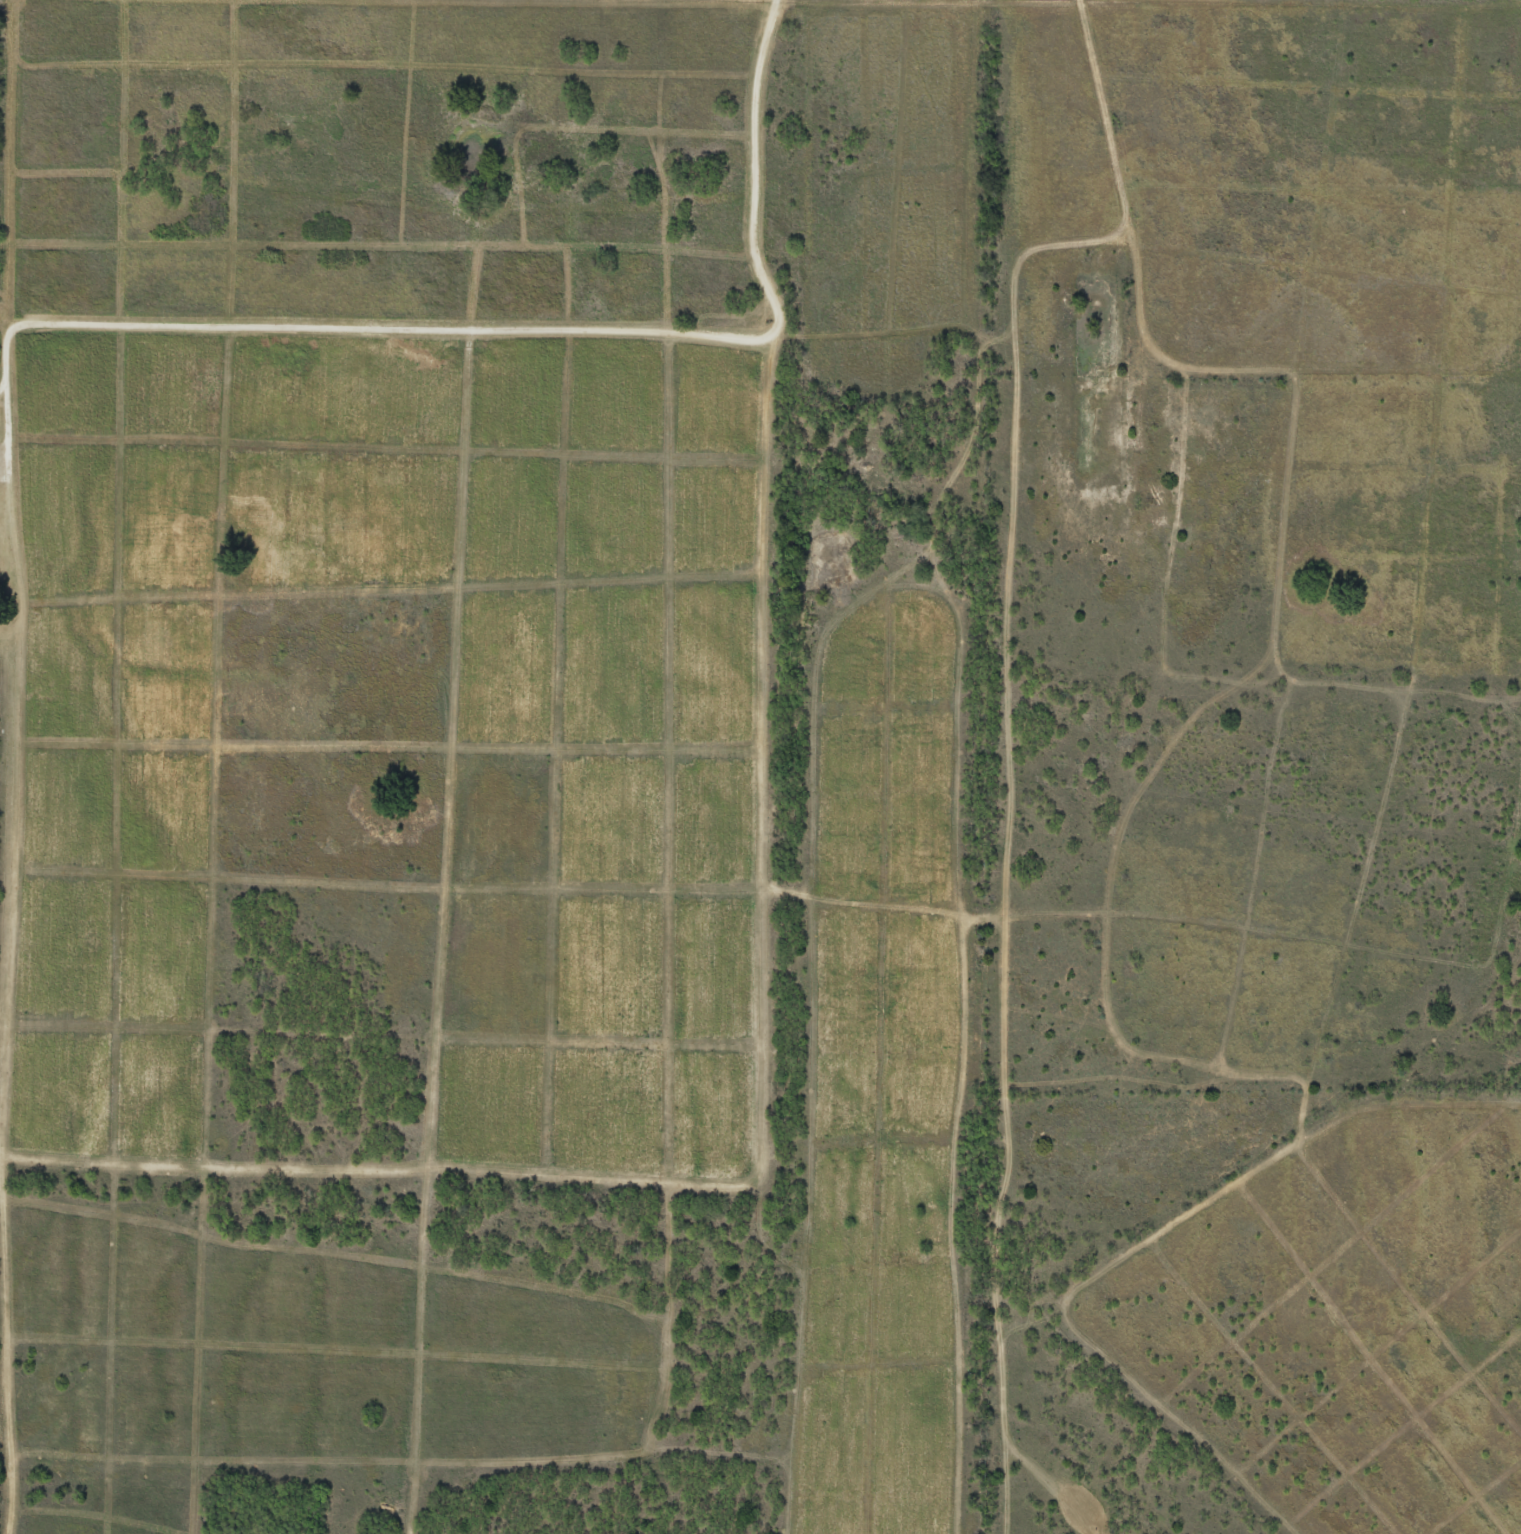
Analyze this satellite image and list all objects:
road: (1165, 3)
road: (1109, 4)
road: (983, 146)

